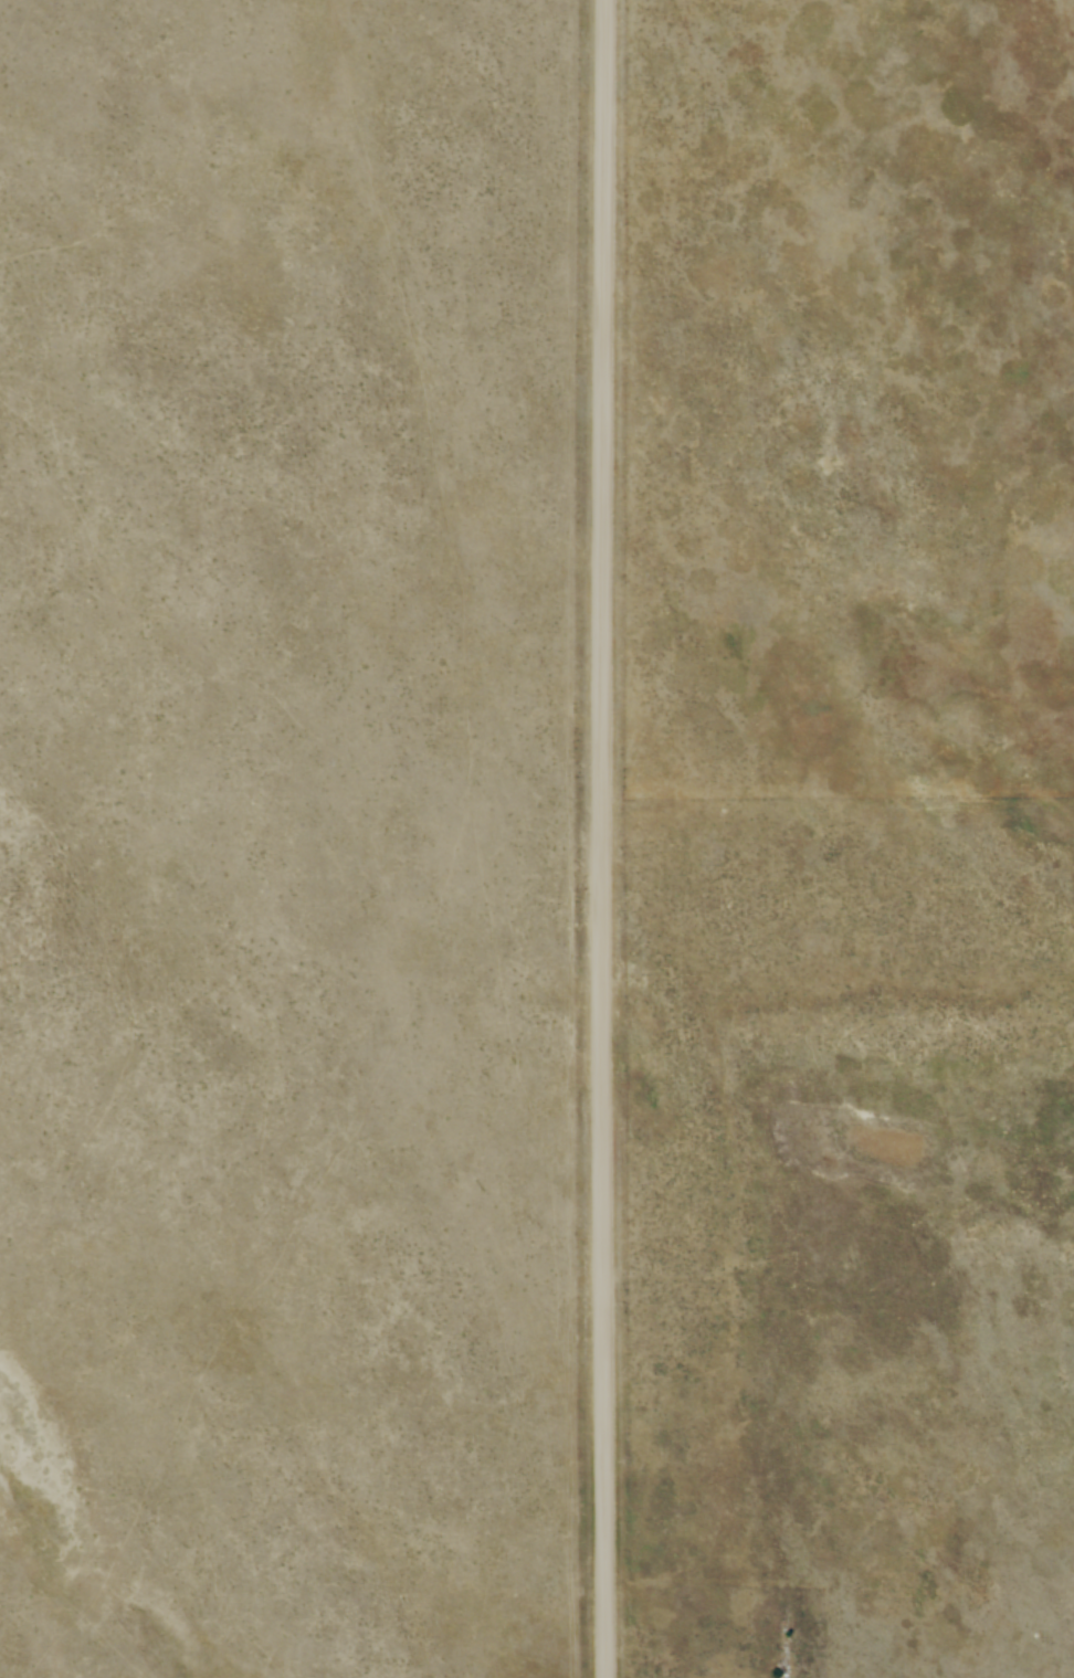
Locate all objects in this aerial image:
road: (600, 838)

